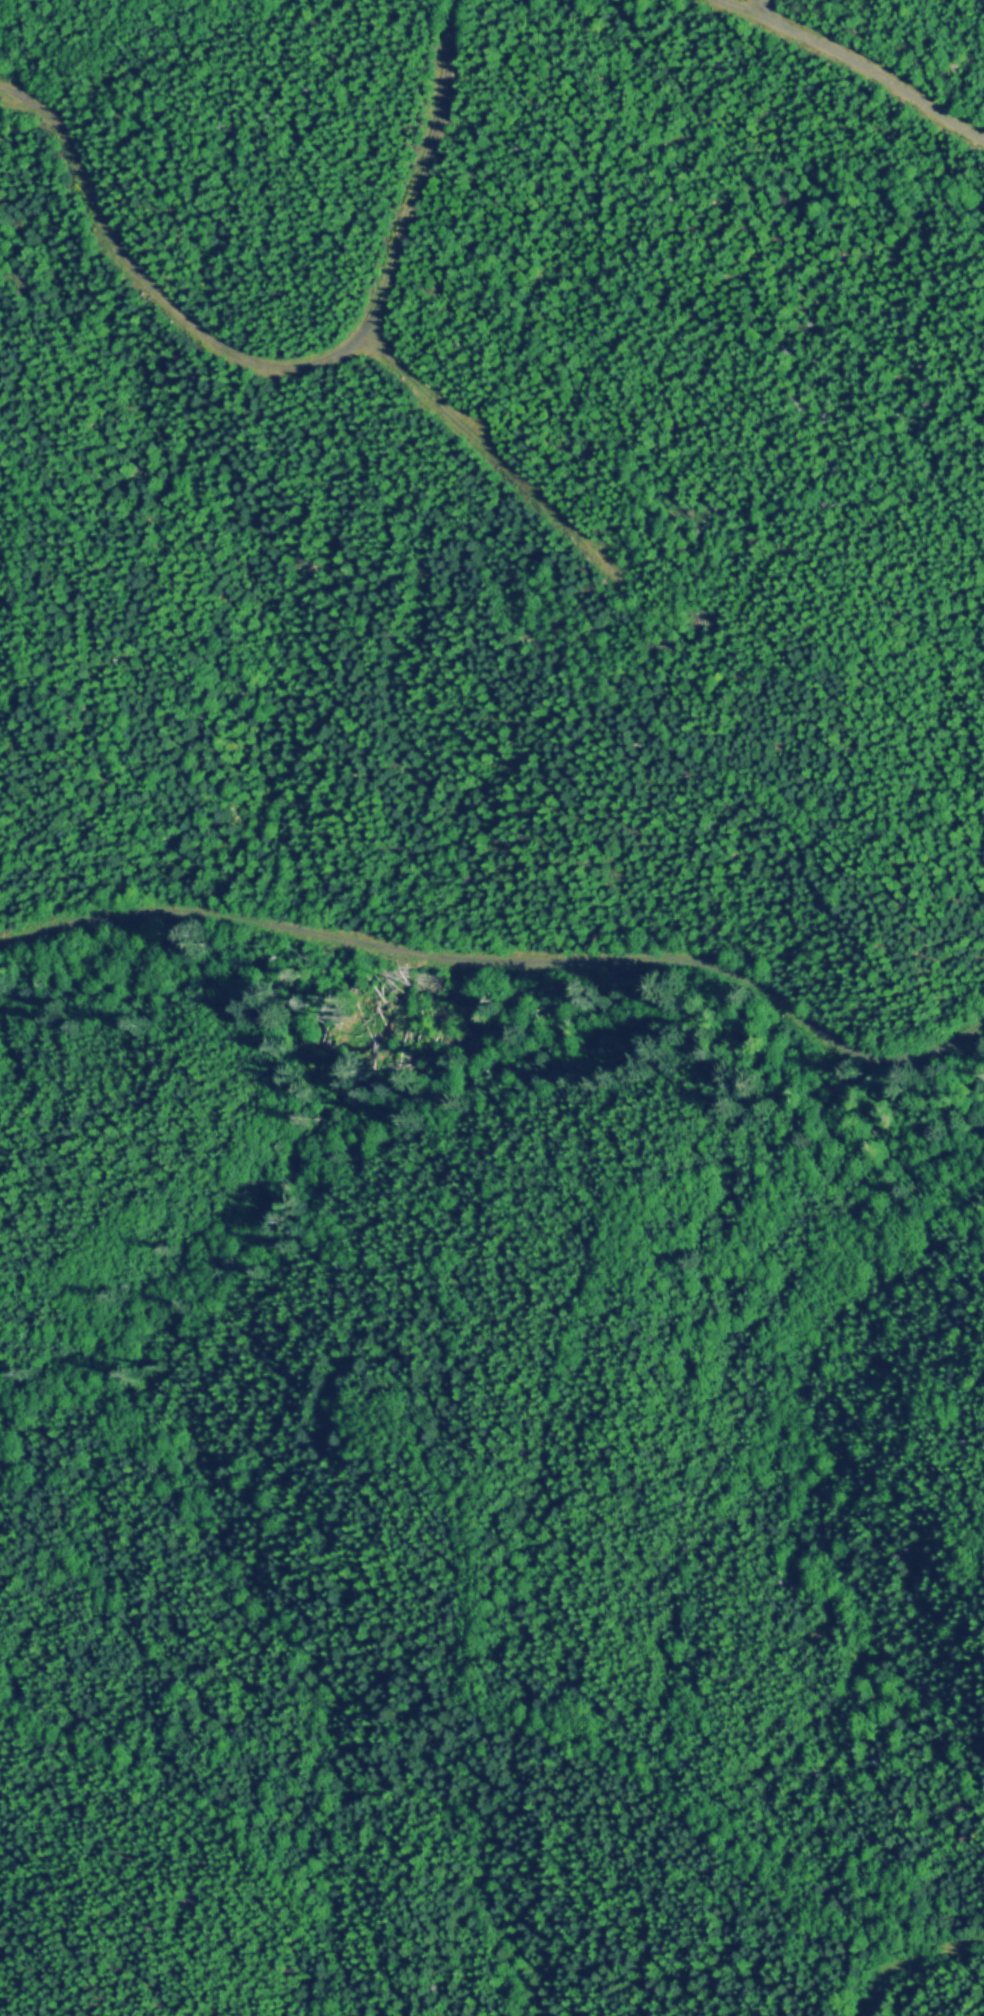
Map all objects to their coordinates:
road: (873, 64)
road: (301, 347)
road: (493, 945)

